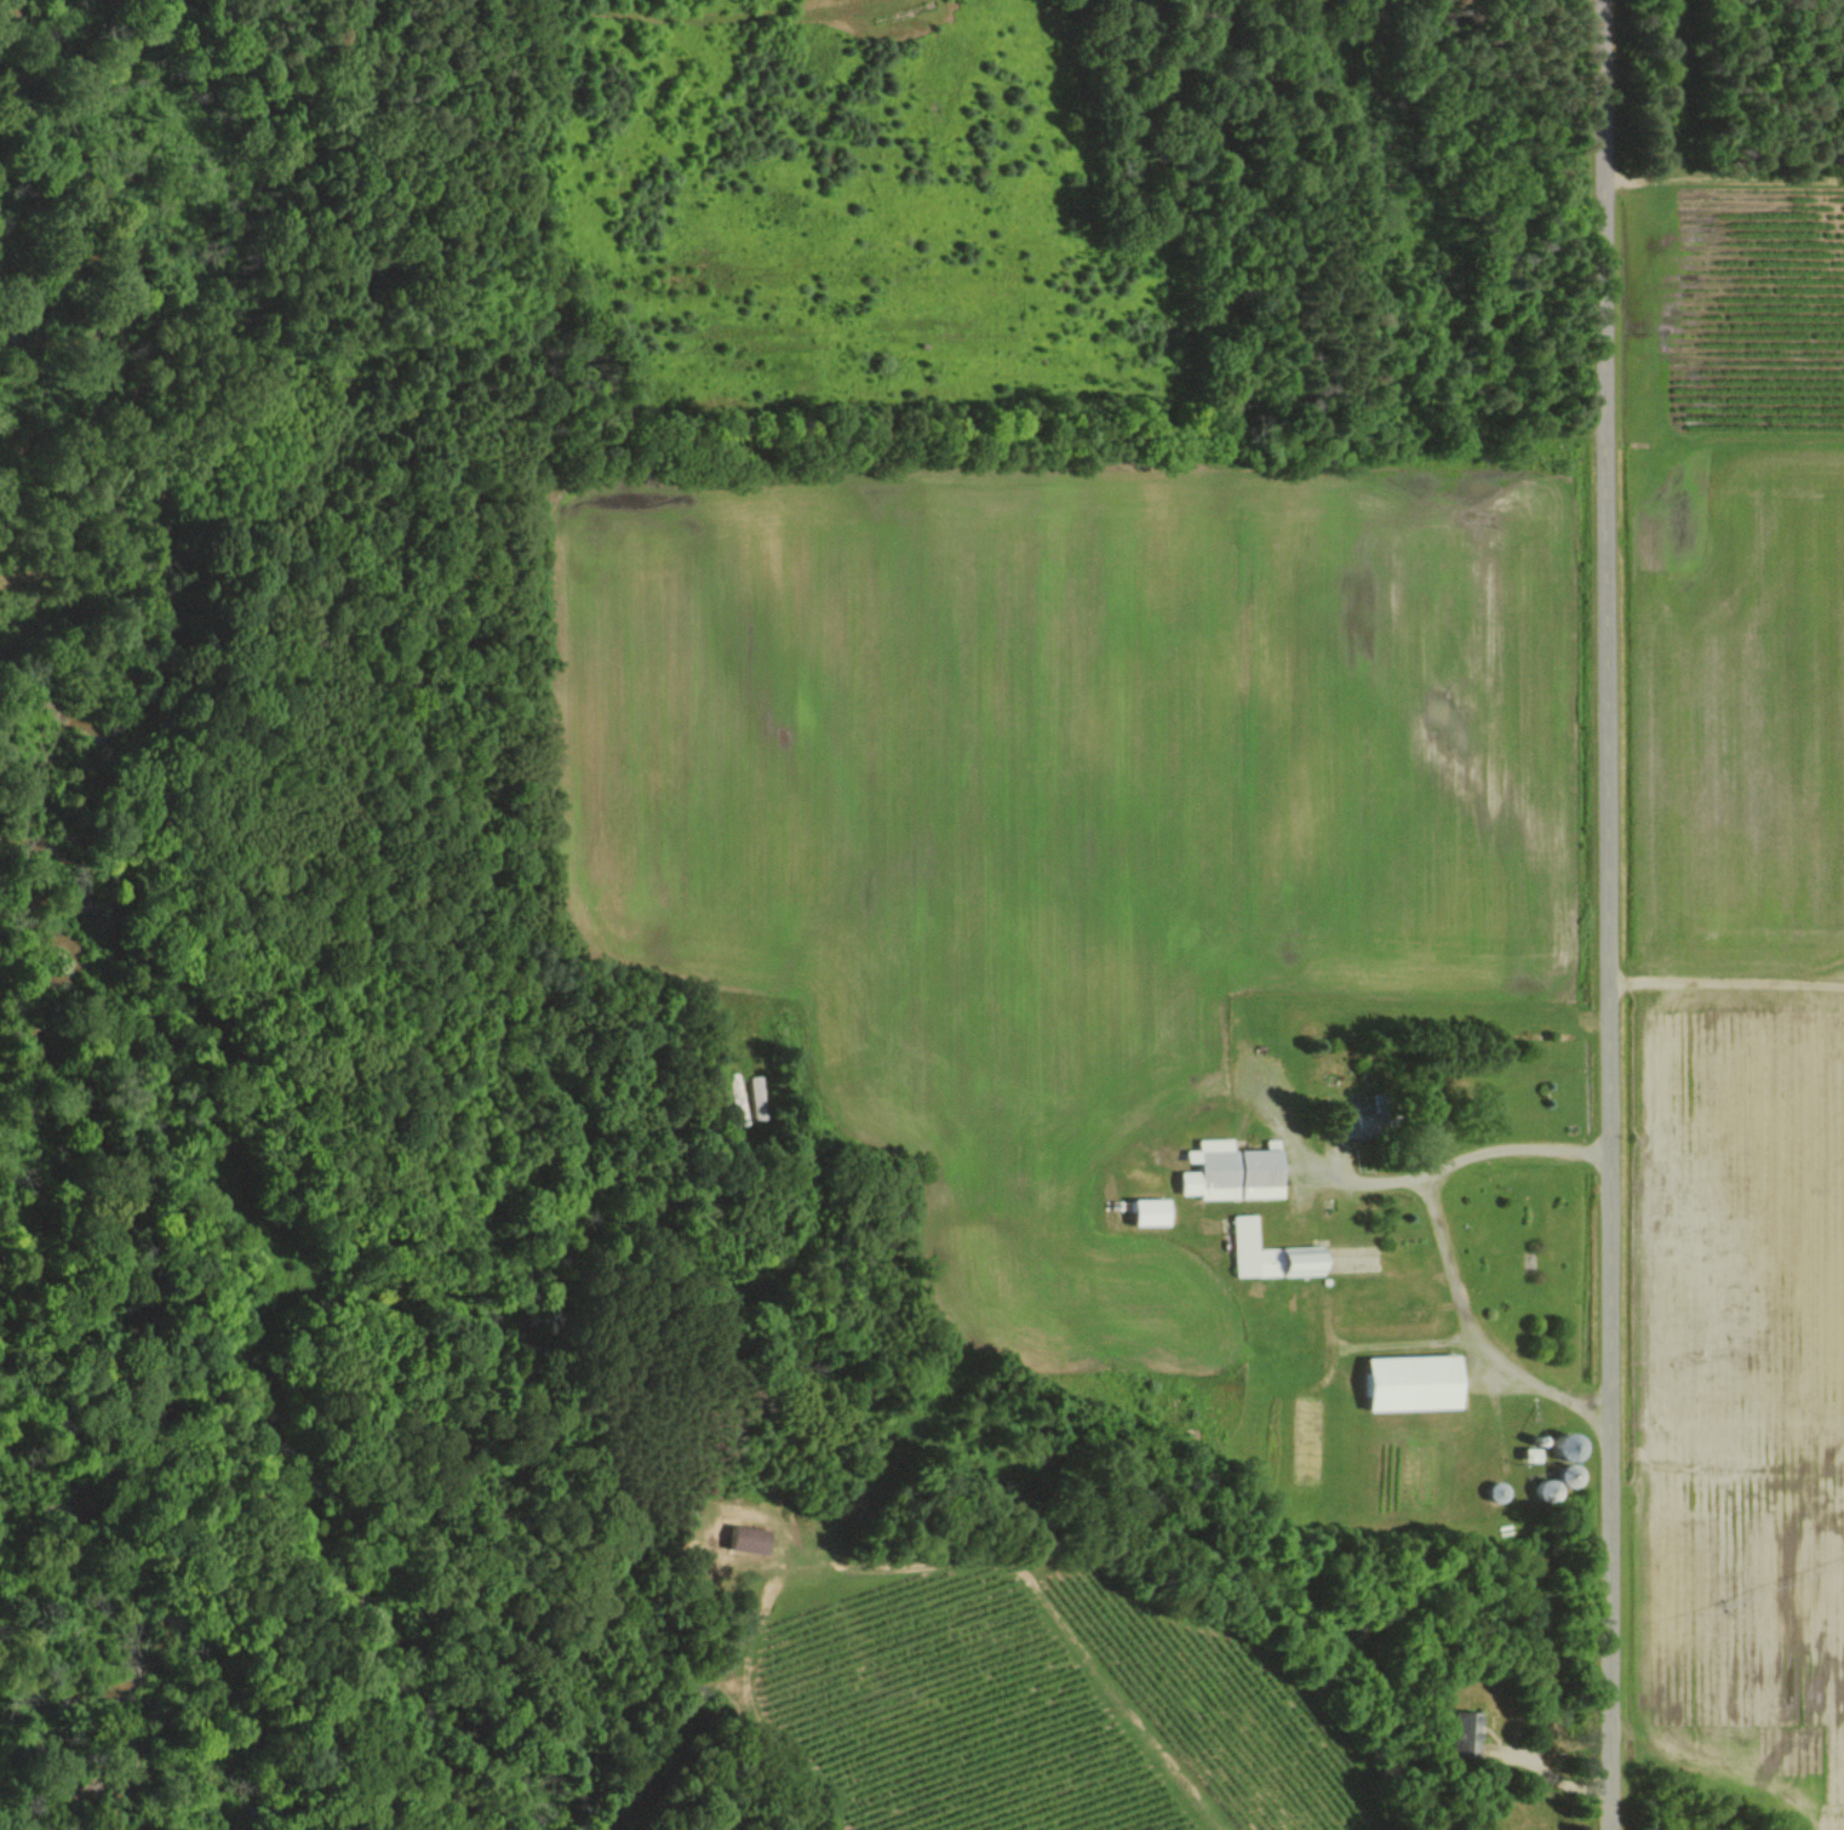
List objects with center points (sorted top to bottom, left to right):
road: (1609, 914)
building: (756, 1097)
building: (1236, 1171)
road: (1402, 1178)
building: (1153, 1212)
building: (1272, 1254)
road: (1478, 1334)
building: (1419, 1383)
building: (1535, 1452)
building: (1560, 1482)
building: (754, 1538)
road: (1063, 1619)
building: (1468, 1729)
road: (1548, 1774)

